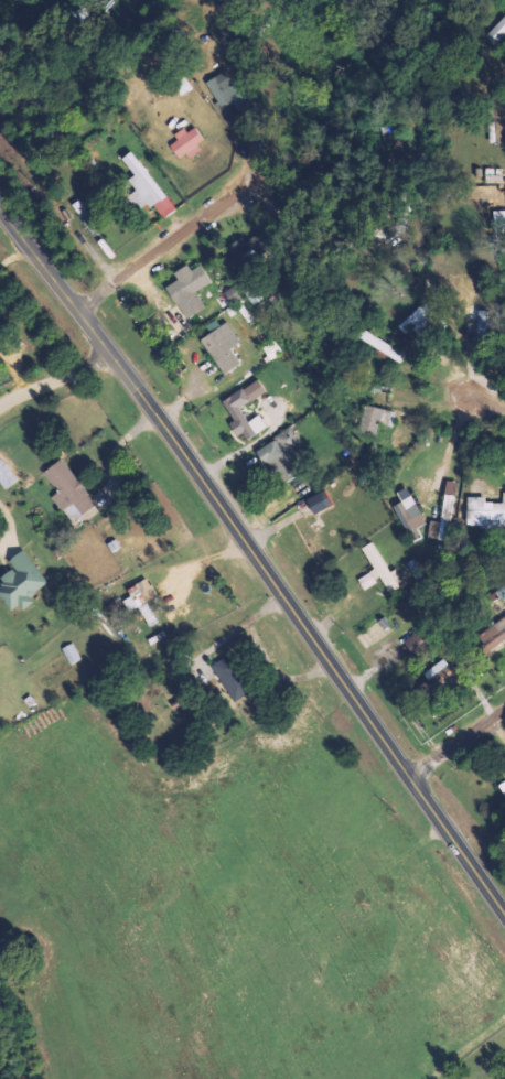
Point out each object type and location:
building: (496, 32)
building: (187, 141)
building: (146, 186)
building: (243, 253)
building: (189, 289)
building: (482, 322)
building: (223, 347)
building: (272, 349)
building: (0, 363)
road: (57, 382)
road: (485, 404)
building: (234, 410)
building: (375, 419)
building: (279, 455)
building: (6, 475)
building: (67, 489)
building: (319, 501)
building: (408, 512)
building: (442, 519)
road: (256, 555)
building: (378, 570)
building: (20, 582)
building: (502, 592)
building: (140, 600)
building: (492, 637)
building: (413, 643)
building: (72, 652)
building: (439, 672)
building: (230, 677)
road: (459, 747)
building: (503, 786)

